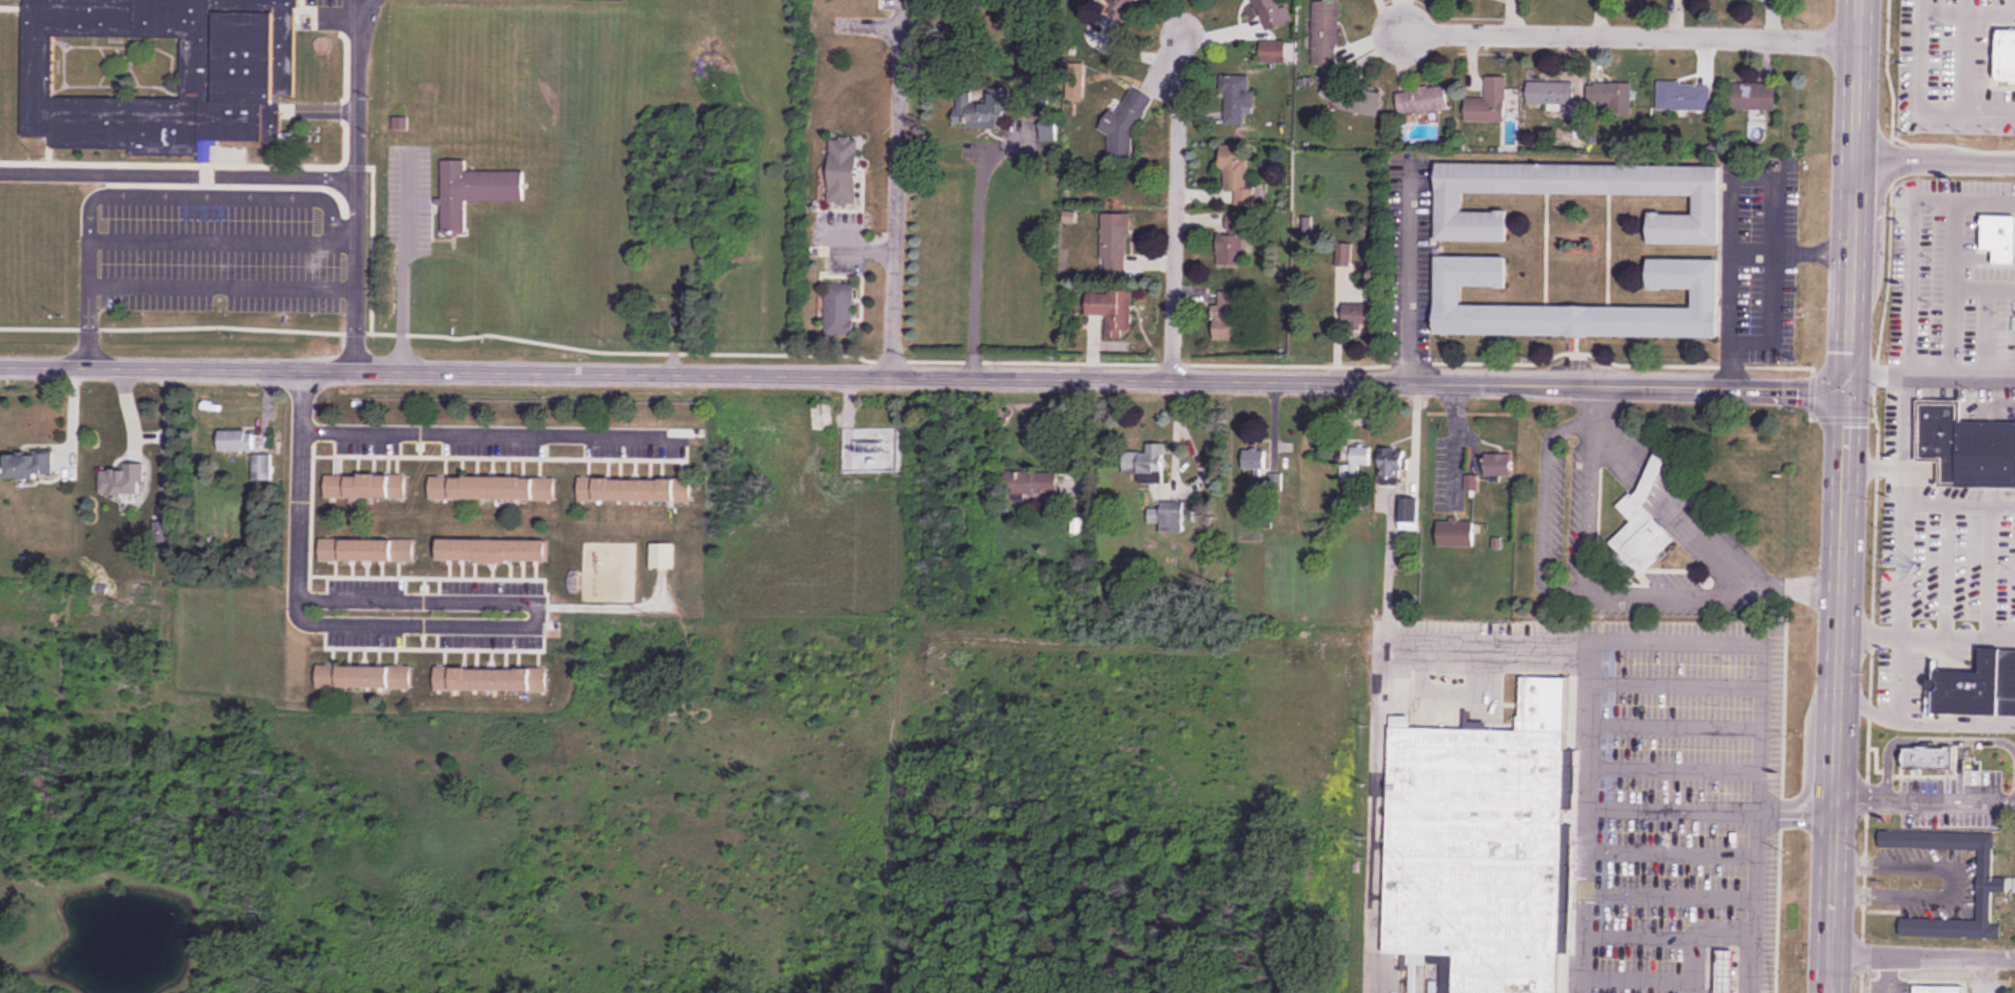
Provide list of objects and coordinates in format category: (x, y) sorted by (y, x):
building: (1126, 5)
building: (1268, 13)
road: (1418, 27)
building: (1325, 31)
road: (1647, 32)
building: (1273, 50)
building: (2005, 54)
building: (157, 72)
building: (1550, 92)
building: (1351, 96)
building: (1684, 96)
building: (1750, 96)
building: (1236, 97)
building: (1611, 97)
building: (1421, 99)
building: (1488, 101)
building: (978, 109)
building: (1126, 116)
road: (1934, 158)
building: (844, 171)
road: (177, 176)
building: (1237, 176)
road: (354, 183)
road: (894, 188)
building: (471, 192)
road: (146, 194)
road: (1851, 195)
road: (1173, 196)
building: (1706, 202)
building: (1996, 234)
road: (221, 242)
building: (1115, 243)
road: (977, 246)
road: (1789, 247)
building: (1230, 248)
building: (1343, 253)
road: (1773, 255)
road: (399, 259)
road: (1411, 272)
road: (1728, 282)
road: (221, 289)
building: (1705, 296)
building: (839, 309)
building: (1112, 310)
building: (1356, 315)
building: (1228, 316)
road: (922, 378)
traffic signals: (1845, 390)
road: (498, 431)
road: (1451, 438)
building: (236, 440)
building: (1966, 446)
power substation: (871, 448)
building: (1359, 458)
building: (1254, 460)
building: (1392, 463)
building: (29, 465)
building: (1153, 465)
building: (1499, 465)
building: (262, 467)
building: (121, 481)
building: (1031, 483)
building: (365, 486)
building: (492, 487)
building: (634, 490)
road: (1388, 507)
building: (1409, 514)
road: (1907, 520)
building: (1641, 525)
road: (298, 531)
building: (1456, 533)
building: (366, 549)
building: (492, 549)
road: (419, 609)
road: (1926, 631)
road: (1616, 639)
road: (1900, 674)
building: (363, 676)
building: (490, 679)
building: (1978, 687)
road: (1836, 691)
road: (1379, 713)
road: (1924, 721)
building: (1925, 753)
building: (1478, 844)
building: (1996, 883)
road: (1751, 901)
road: (1922, 954)
building: (1724, 971)
building: (1937, 984)

